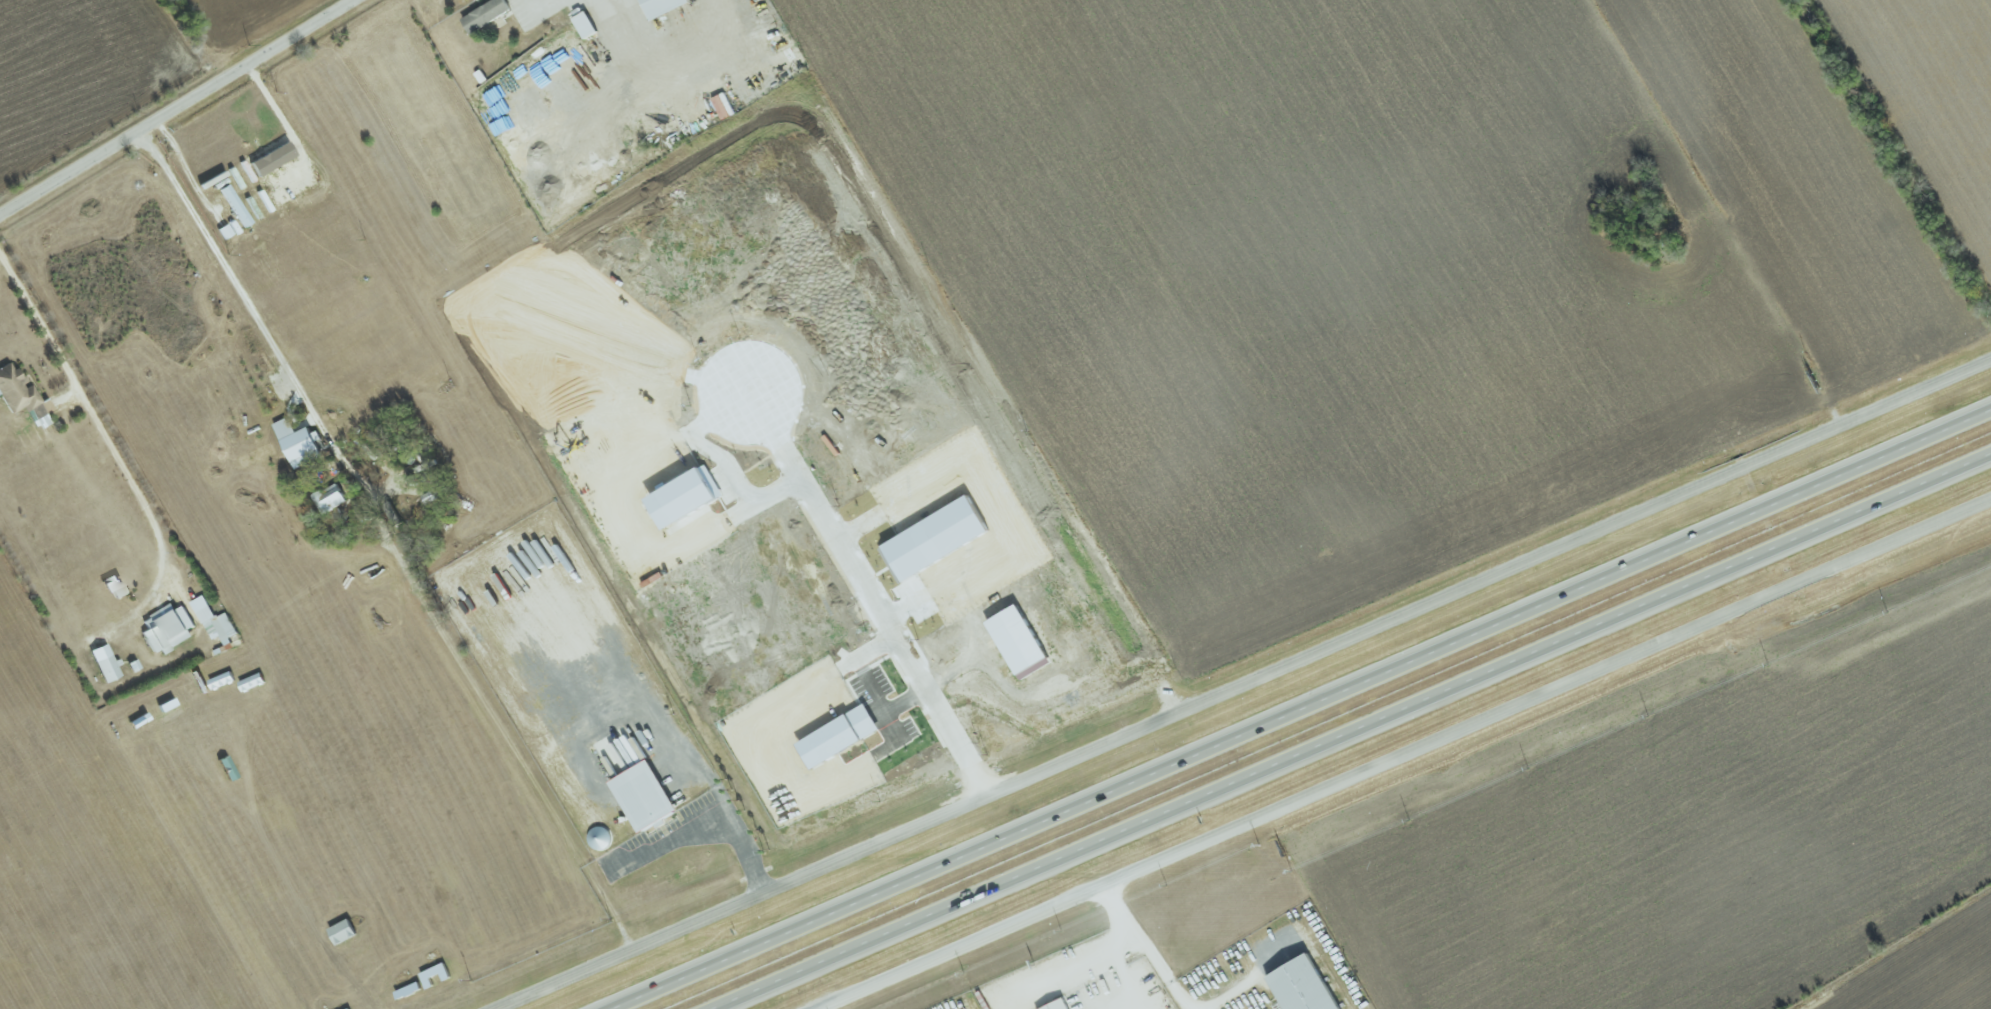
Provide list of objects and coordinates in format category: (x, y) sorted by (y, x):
building: (666, 7)
road: (549, 9)
building: (488, 15)
building: (587, 25)
road: (178, 108)
road: (281, 117)
building: (274, 158)
building: (236, 205)
road: (235, 285)
building: (23, 395)
road: (109, 441)
building: (300, 443)
building: (332, 498)
road: (874, 600)
building: (215, 621)
building: (168, 629)
building: (1023, 634)
building: (106, 663)
road: (1248, 684)
road: (1305, 711)
building: (845, 730)
road: (1357, 733)
road: (1409, 755)
building: (649, 791)
road: (709, 817)
building: (344, 931)
road: (1146, 948)
road: (1110, 965)
crop: (1931, 972)
building: (1308, 984)
road: (1230, 992)
building: (1058, 1004)

